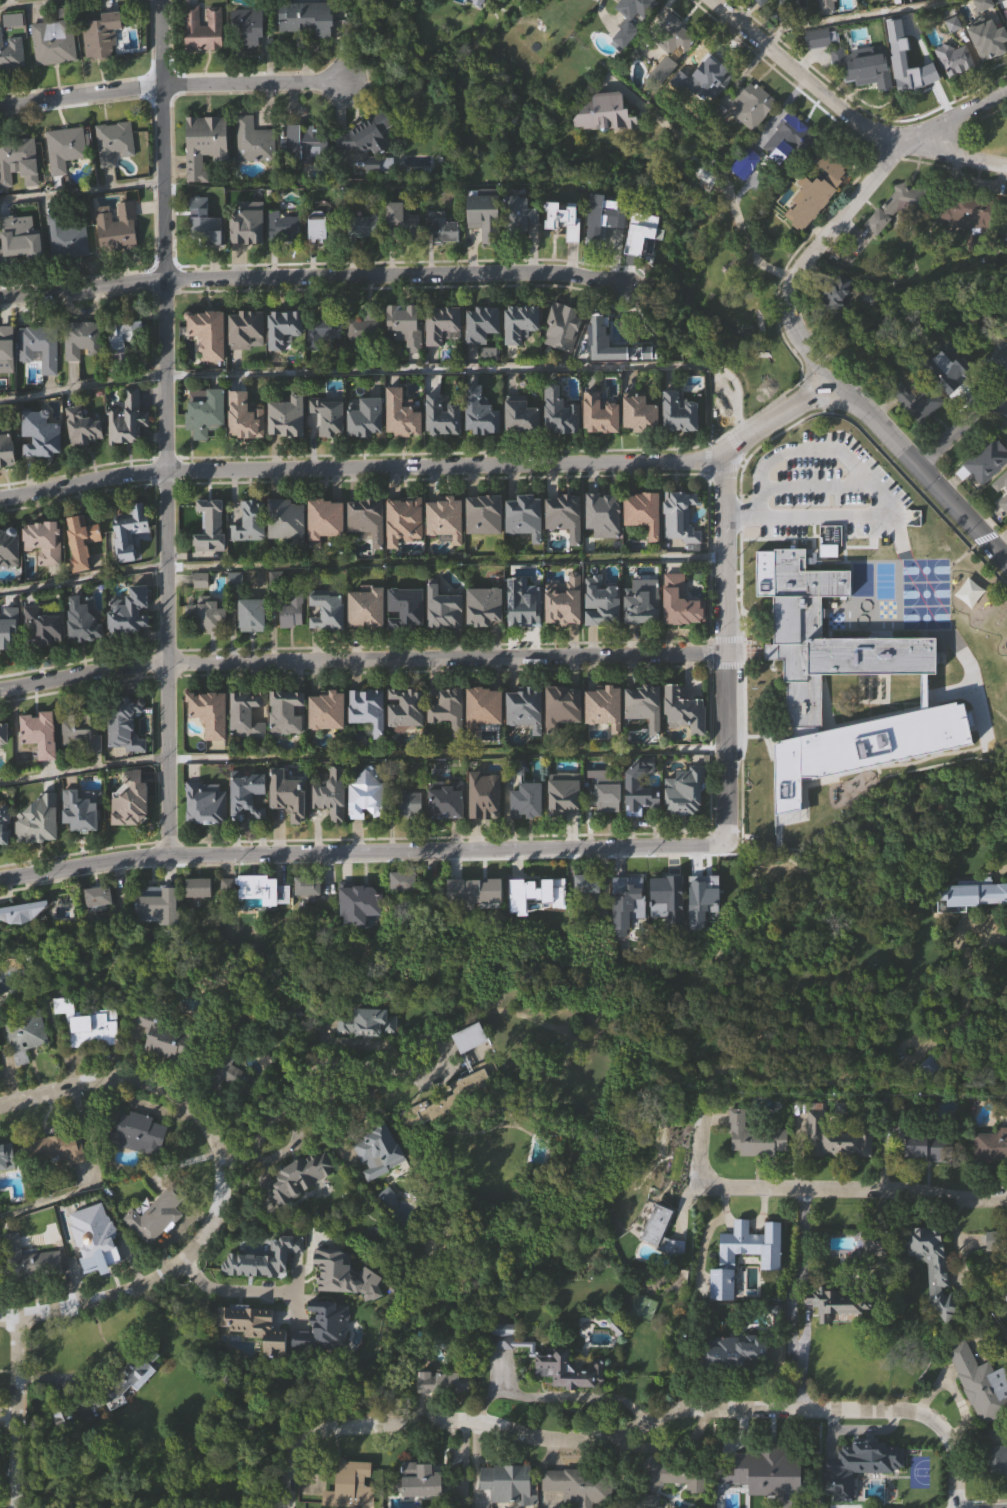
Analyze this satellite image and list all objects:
building: (785, 0)
building: (871, 0)
building: (910, 0)
building: (760, 2)
building: (549, 3)
road: (33, 4)
building: (89, 5)
building: (636, 7)
building: (1004, 8)
building: (8, 9)
building: (422, 11)
building: (590, 11)
road: (845, 16)
building: (850, 16)
building: (307, 18)
building: (1000, 22)
building: (249, 26)
building: (201, 28)
building: (634, 30)
building: (984, 31)
building: (828, 34)
building: (100, 35)
building: (673, 35)
building: (53, 39)
building: (991, 45)
building: (309, 47)
building: (10, 54)
building: (205, 58)
building: (249, 58)
building: (954, 59)
building: (862, 62)
building: (103, 64)
building: (627, 64)
building: (711, 65)
building: (819, 67)
building: (918, 67)
building: (989, 67)
building: (677, 69)
building: (56, 71)
building: (12, 80)
road: (171, 83)
building: (956, 89)
building: (407, 90)
building: (715, 94)
building: (866, 94)
building: (920, 95)
building: (752, 105)
road: (843, 112)
building: (604, 114)
road: (954, 121)
building: (754, 134)
building: (365, 135)
building: (790, 136)
building: (253, 141)
building: (113, 142)
building: (304, 142)
building: (607, 142)
building: (204, 145)
building: (63, 148)
building: (17, 161)
building: (367, 164)
building: (790, 167)
building: (256, 169)
building: (116, 171)
building: (702, 171)
building: (306, 172)
building: (207, 173)
building: (825, 173)
building: (67, 176)
building: (754, 184)
road: (80, 190)
building: (19, 191)
building: (704, 200)
building: (900, 208)
building: (517, 216)
building: (818, 219)
building: (973, 219)
building: (400, 221)
building: (203, 222)
building: (478, 224)
building: (280, 226)
building: (243, 227)
building: (360, 227)
building: (441, 228)
building: (116, 229)
building: (315, 230)
building: (602, 230)
building: (65, 235)
building: (17, 237)
road: (751, 237)
building: (894, 238)
building: (966, 242)
building: (522, 243)
building: (402, 245)
building: (566, 248)
building: (206, 251)
building: (249, 252)
road: (807, 252)
building: (320, 254)
building: (285, 255)
building: (365, 255)
building: (120, 257)
building: (447, 258)
building: (644, 260)
building: (69, 263)
building: (22, 265)
building: (1006, 268)
road: (314, 275)
building: (836, 293)
building: (839, 322)
building: (519, 324)
building: (440, 325)
building: (480, 325)
building: (284, 326)
building: (400, 326)
building: (563, 326)
building: (245, 327)
building: (362, 327)
building: (322, 329)
building: (207, 332)
building: (123, 334)
building: (610, 336)
building: (80, 340)
building: (38, 347)
building: (523, 351)
building: (483, 352)
building: (444, 353)
building: (3, 354)
building: (407, 354)
building: (367, 355)
building: (565, 355)
building: (285, 356)
building: (998, 356)
building: (248, 358)
building: (325, 358)
building: (210, 361)
building: (122, 365)
building: (83, 368)
road: (484, 369)
building: (42, 376)
building: (491, 381)
road: (83, 384)
building: (1000, 387)
building: (918, 400)
building: (559, 412)
building: (679, 412)
building: (401, 413)
building: (600, 413)
building: (640, 413)
building: (479, 414)
building: (205, 416)
building: (285, 416)
building: (327, 416)
building: (447, 416)
building: (521, 416)
building: (126, 418)
building: (243, 418)
building: (369, 418)
road: (776, 418)
road: (166, 427)
building: (80, 428)
building: (916, 428)
building: (38, 433)
road: (962, 433)
building: (207, 439)
building: (482, 440)
building: (562, 441)
building: (404, 442)
building: (602, 442)
building: (642, 442)
building: (680, 442)
building: (331, 443)
building: (523, 443)
building: (289, 445)
building: (367, 445)
building: (445, 445)
building: (129, 447)
building: (6, 449)
building: (86, 455)
building: (983, 462)
building: (43, 463)
road: (360, 464)
road: (921, 467)
building: (7, 474)
building: (1000, 481)
building: (1003, 502)
building: (835, 507)
building: (566, 508)
building: (488, 510)
building: (605, 511)
building: (642, 511)
building: (1001, 511)
building: (679, 515)
building: (445, 517)
building: (366, 518)
building: (284, 519)
building: (322, 519)
building: (403, 520)
building: (249, 521)
building: (208, 525)
building: (127, 530)
building: (1004, 531)
building: (79, 540)
building: (645, 540)
building: (42, 541)
building: (486, 543)
building: (605, 543)
building: (567, 544)
building: (527, 545)
building: (681, 545)
road: (893, 546)
building: (8, 547)
building: (288, 547)
building: (447, 547)
building: (327, 548)
building: (369, 548)
building: (406, 548)
building: (252, 550)
building: (213, 554)
building: (131, 559)
road: (445, 560)
building: (84, 569)
building: (47, 570)
building: (10, 575)
road: (83, 578)
building: (564, 600)
building: (601, 602)
building: (642, 602)
building: (482, 605)
building: (364, 607)
building: (404, 607)
building: (442, 607)
building: (324, 608)
building: (290, 610)
building: (527, 610)
building: (127, 612)
building: (208, 614)
building: (249, 614)
building: (81, 618)
building: (972, 620)
building: (40, 625)
building: (566, 630)
building: (644, 630)
building: (682, 630)
building: (603, 631)
building: (486, 634)
building: (368, 636)
building: (408, 636)
building: (445, 636)
building: (7, 637)
building: (330, 637)
building: (131, 639)
building: (294, 640)
building: (209, 642)
building: (254, 643)
building: (86, 647)
road: (724, 652)
building: (45, 654)
building: (11, 658)
road: (361, 660)
building: (792, 688)
building: (645, 705)
building: (446, 706)
building: (404, 707)
building: (481, 707)
building: (561, 707)
building: (603, 707)
building: (366, 708)
building: (525, 708)
building: (325, 710)
building: (684, 711)
building: (245, 712)
building: (284, 712)
building: (209, 713)
building: (123, 723)
building: (435, 724)
building: (40, 729)
building: (80, 730)
building: (2, 732)
building: (647, 733)
building: (565, 734)
building: (370, 736)
building: (408, 736)
building: (450, 736)
building: (485, 736)
building: (606, 736)
building: (527, 737)
building: (329, 738)
building: (686, 739)
building: (212, 741)
building: (289, 741)
building: (128, 752)
road: (362, 755)
building: (5, 761)
building: (43, 761)
building: (84, 761)
building: (640, 784)
building: (684, 790)
building: (607, 792)
building: (329, 793)
building: (366, 793)
building: (285, 794)
building: (483, 795)
building: (245, 796)
building: (444, 798)
building: (128, 800)
building: (526, 800)
building: (567, 801)
building: (205, 803)
building: (408, 803)
building: (79, 809)
building: (641, 816)
building: (608, 818)
building: (36, 819)
building: (686, 820)
building: (333, 822)
building: (5, 823)
building: (290, 823)
building: (369, 823)
building: (249, 824)
building: (486, 824)
building: (448, 828)
building: (132, 829)
building: (529, 829)
building: (208, 831)
building: (412, 831)
building: (84, 837)
building: (41, 848)
road: (362, 851)
building: (6, 853)
building: (461, 880)
building: (586, 880)
building: (400, 881)
building: (353, 884)
building: (306, 886)
building: (260, 890)
building: (195, 891)
building: (974, 893)
building: (405, 909)
building: (589, 912)
building: (229, 914)
building: (310, 914)
building: (201, 915)
building: (266, 918)
building: (477, 919)
building: (538, 922)
building: (971, 923)
building: (669, 926)
building: (99, 927)
building: (362, 930)
building: (628, 931)
building: (159, 933)
building: (22, 941)
road: (969, 1011)
building: (365, 1023)
building: (86, 1024)
building: (24, 1033)
building: (164, 1035)
building: (376, 1050)
building: (468, 1051)
building: (90, 1053)
building: (347, 1054)
building: (223, 1063)
building: (29, 1064)
building: (161, 1064)
building: (472, 1065)
building: (931, 1071)
road: (310, 1076)
building: (935, 1093)
building: (455, 1101)
building: (235, 1103)
building: (463, 1120)
building: (902, 1121)
building: (137, 1133)
building: (753, 1136)
building: (834, 1137)
building: (990, 1145)
building: (930, 1147)
building: (55, 1148)
building: (377, 1152)
building: (6, 1157)
building: (140, 1161)
building: (757, 1164)
building: (837, 1165)
building: (991, 1173)
building: (928, 1174)
building: (62, 1175)
building: (298, 1177)
building: (380, 1179)
road: (219, 1183)
building: (8, 1184)
road: (794, 1190)
building: (304, 1203)
building: (156, 1216)
building: (389, 1225)
building: (661, 1230)
building: (876, 1239)
building: (996, 1240)
building: (158, 1244)
building: (664, 1259)
building: (27, 1260)
building: (770, 1262)
building: (97, 1266)
building: (933, 1267)
road: (966, 1269)
building: (877, 1272)
road: (797, 1277)
road: (233, 1287)
building: (266, 1287)
building: (33, 1288)
building: (772, 1289)
building: (935, 1296)
building: (838, 1301)
building: (346, 1302)
building: (840, 1332)
building: (501, 1336)
building: (734, 1350)
building: (257, 1353)
building: (326, 1356)
road: (801, 1361)
building: (565, 1370)
building: (736, 1378)
building: (440, 1384)
building: (978, 1384)
building: (106, 1394)
road: (557, 1396)
building: (571, 1398)
building: (506, 1399)
building: (448, 1409)
building: (980, 1410)
road: (16, 1415)
road: (631, 1427)
building: (995, 1459)
building: (767, 1472)
building: (671, 1475)
building: (419, 1480)
building: (506, 1482)
building: (349, 1483)
building: (576, 1485)
building: (864, 1488)
building: (997, 1488)
building: (764, 1493)
building: (508, 1500)
building: (675, 1500)
building: (426, 1501)
building: (574, 1502)

